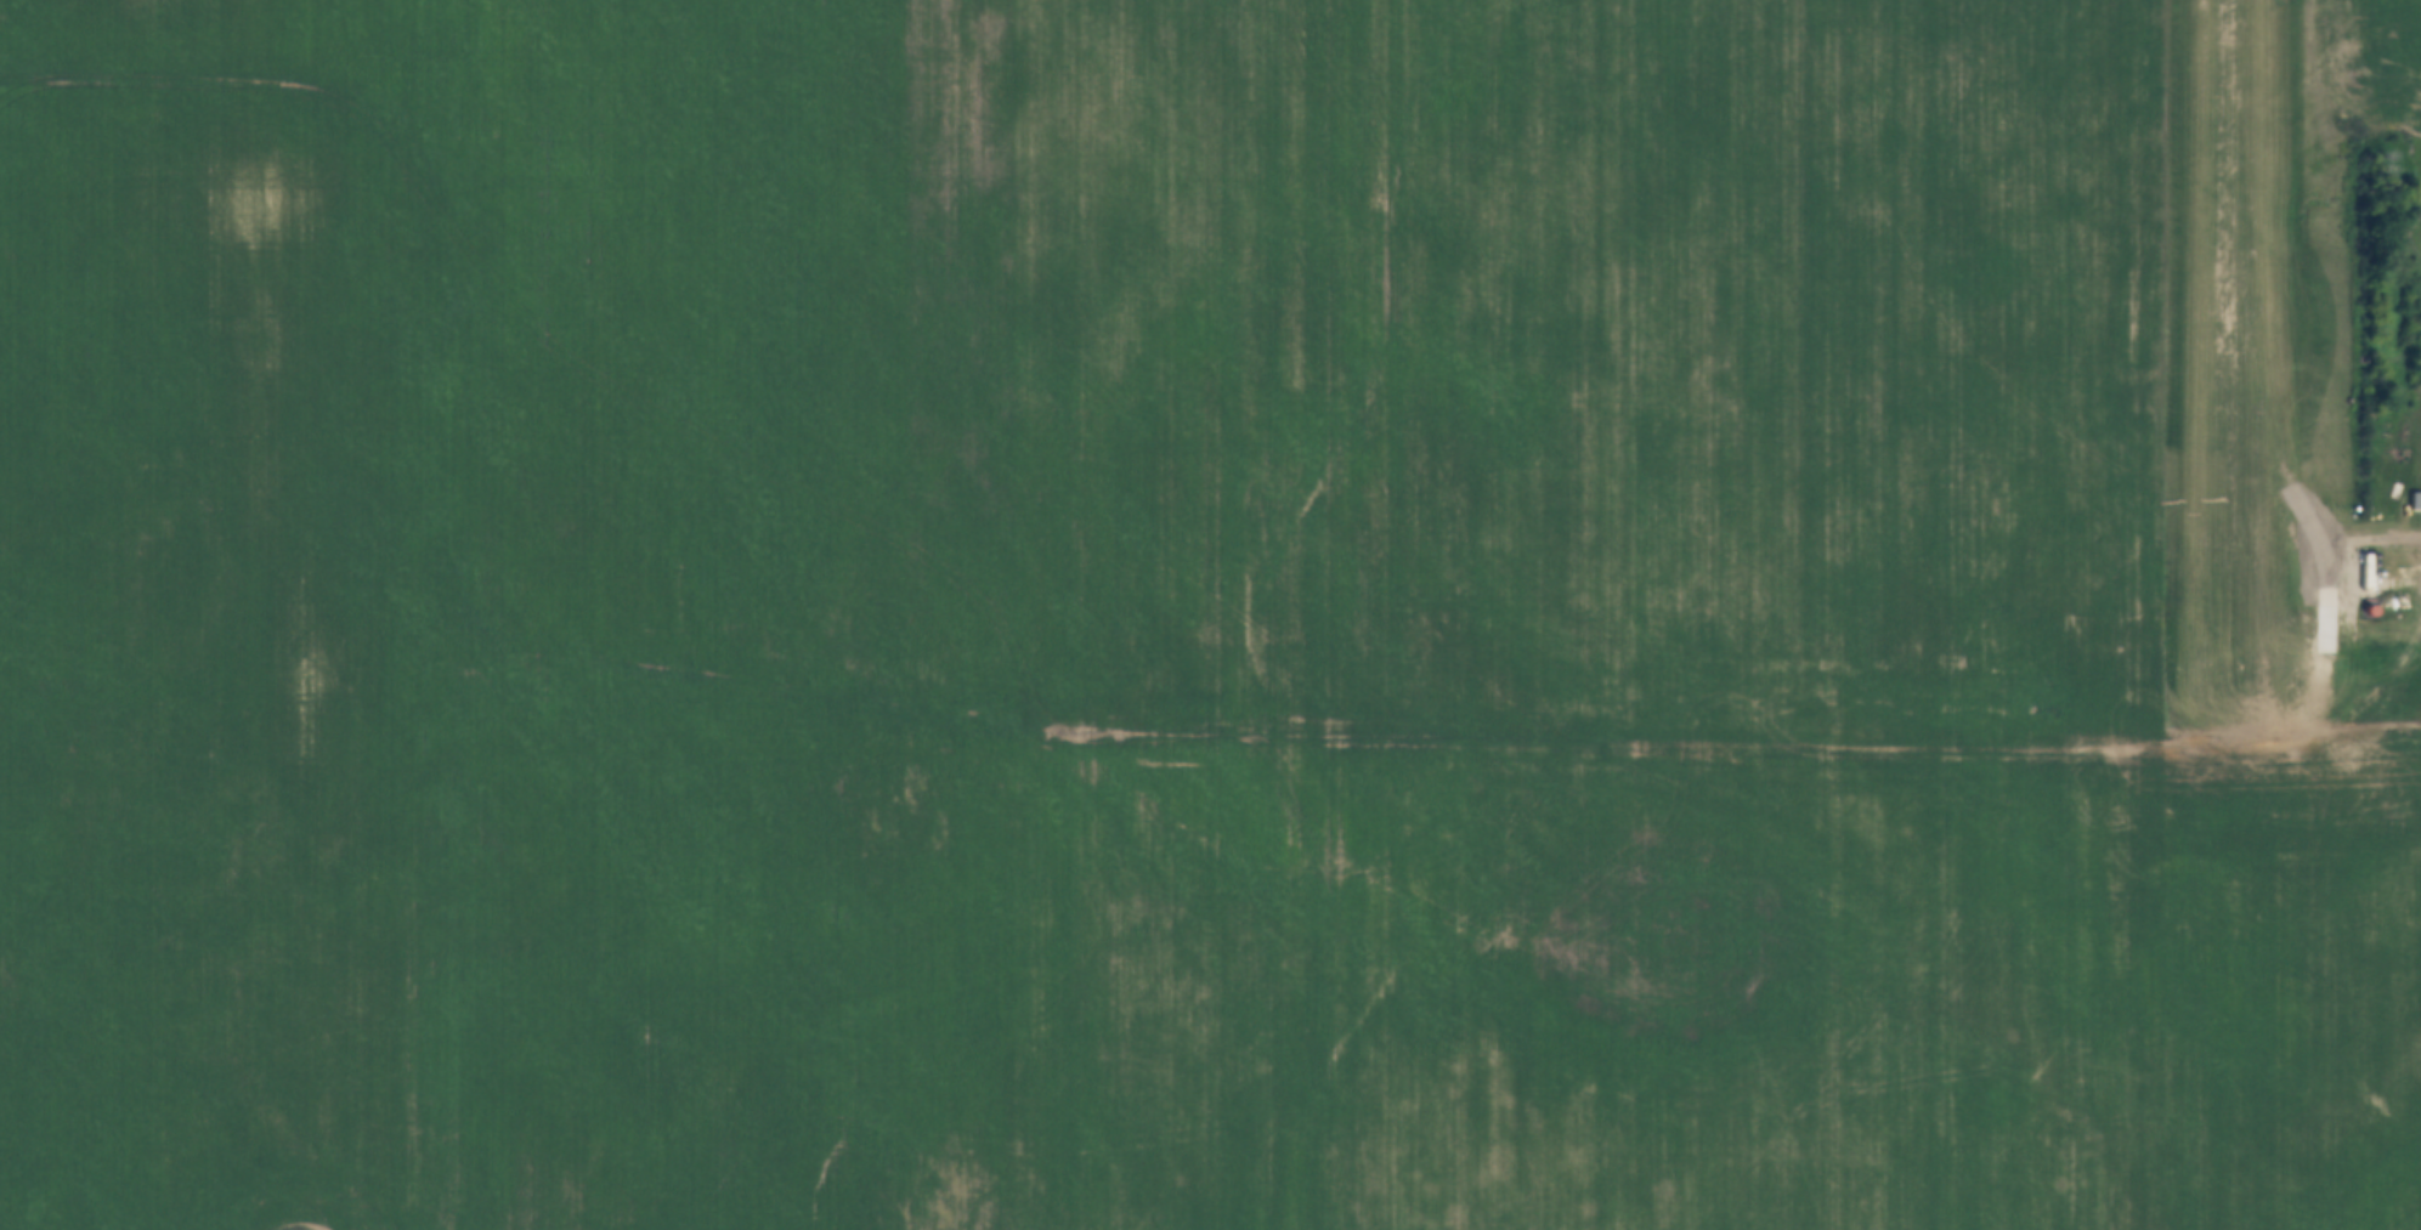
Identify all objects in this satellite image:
airport runway: (2234, 352)
airport taxiway: (2327, 534)
road: (2307, 729)

